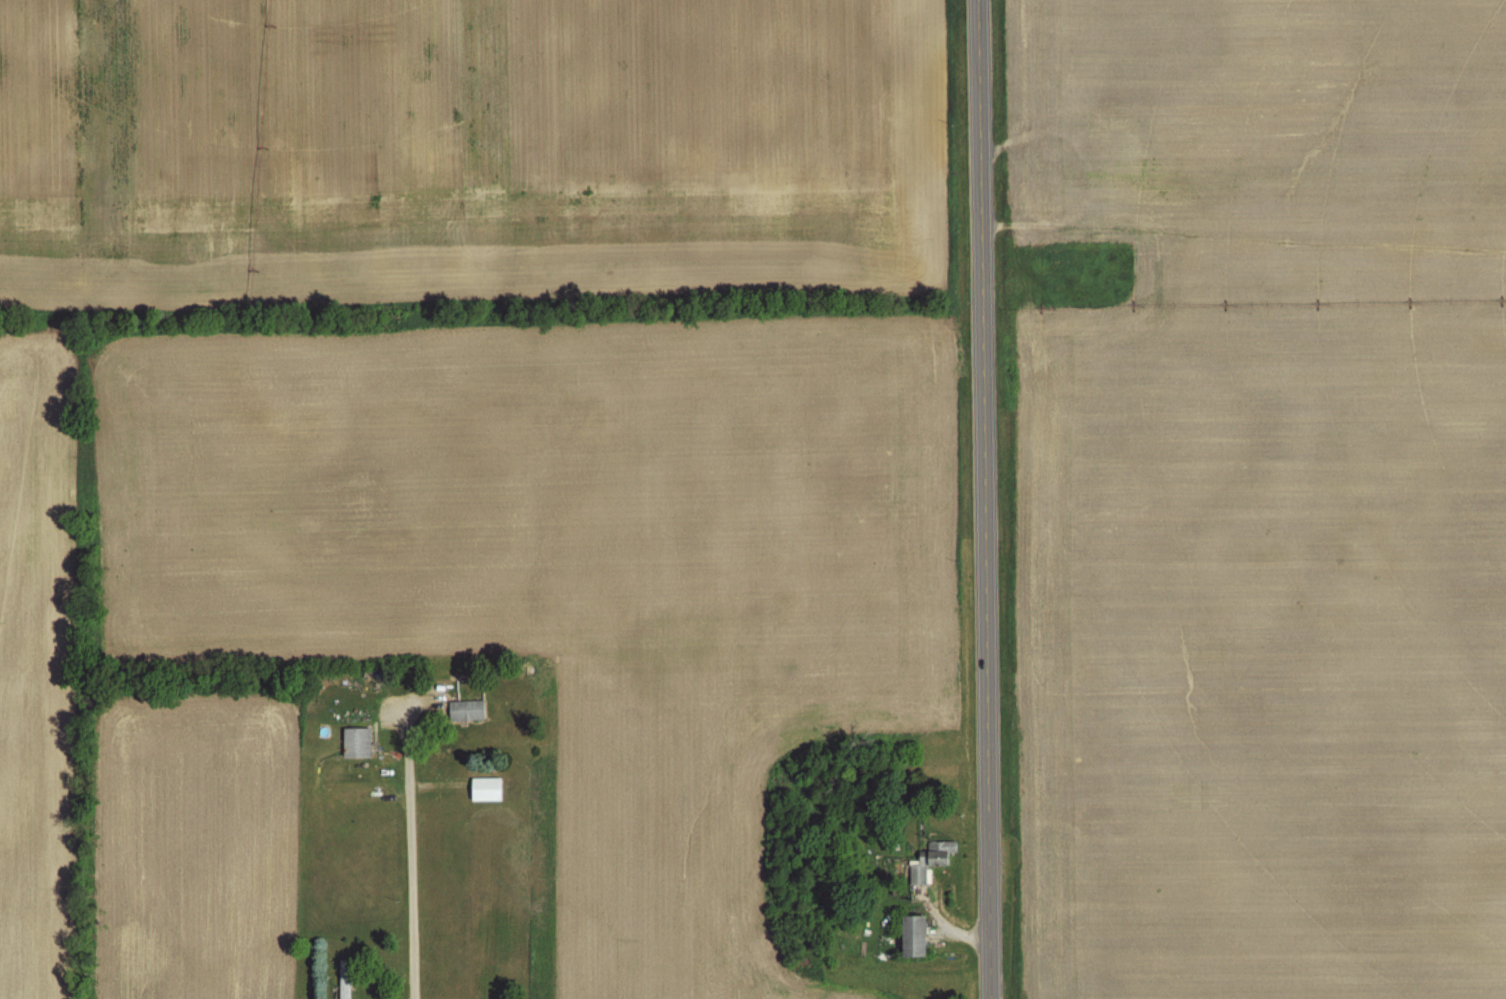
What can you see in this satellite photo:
building: (1114, 150)
building: (1044, 199)
road: (987, 499)
building: (465, 711)
building: (356, 743)
building: (485, 789)
building: (930, 860)
building: (912, 937)
building: (345, 979)

